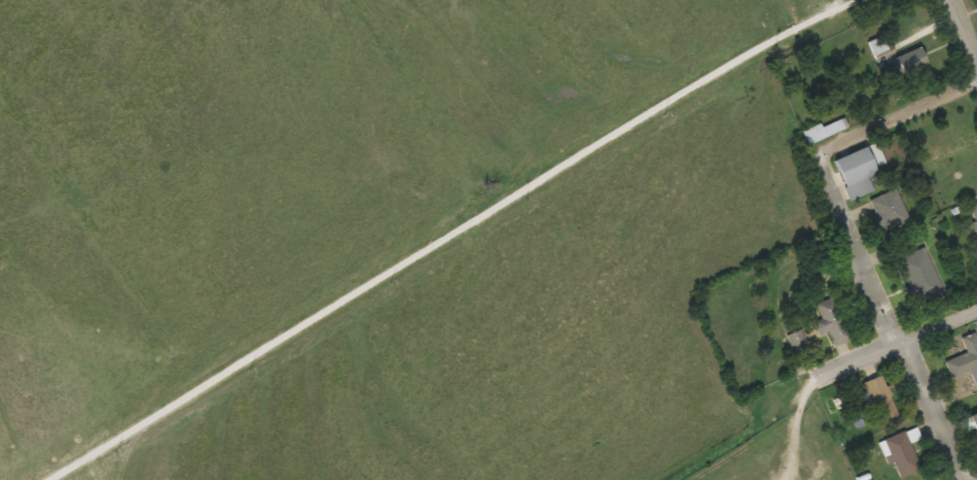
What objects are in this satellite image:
road: (961, 34)
building: (877, 45)
road: (975, 59)
building: (909, 61)
road: (936, 107)
road: (856, 143)
building: (941, 144)
building: (856, 171)
building: (888, 210)
building: (973, 216)
road: (447, 236)
building: (920, 276)
road: (885, 319)
building: (831, 322)
road: (937, 329)
building: (796, 340)
building: (965, 359)
road: (863, 361)
building: (880, 400)
building: (975, 419)
building: (901, 454)

